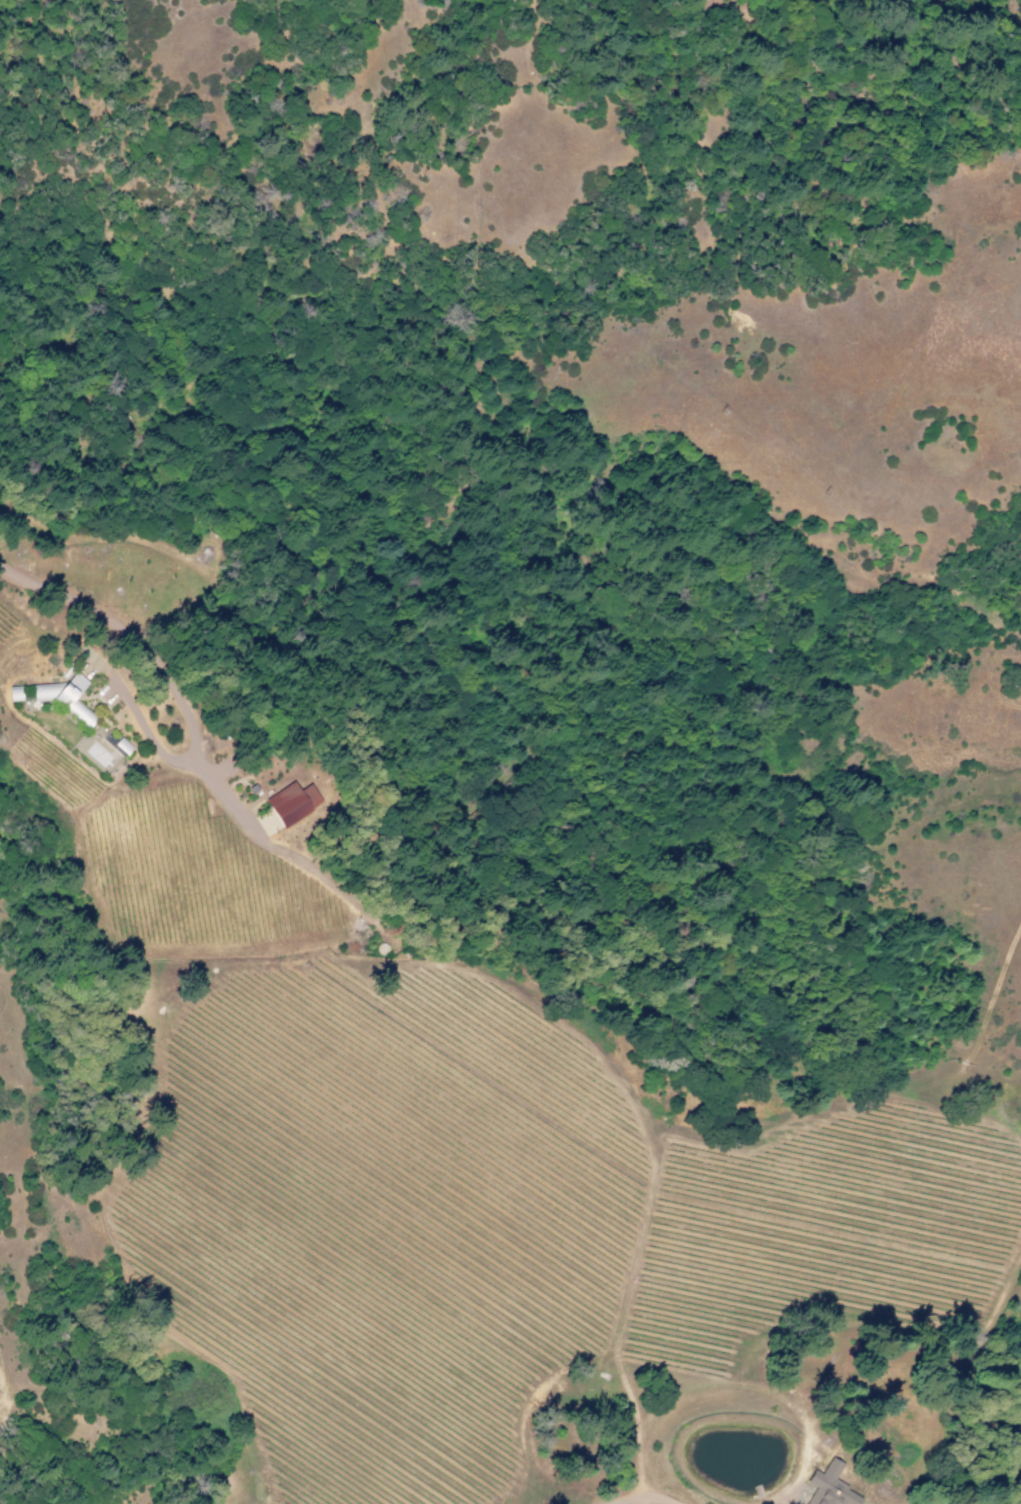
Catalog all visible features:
building: (14, 694)
building: (66, 697)
building: (292, 803)
building: (829, 1487)

